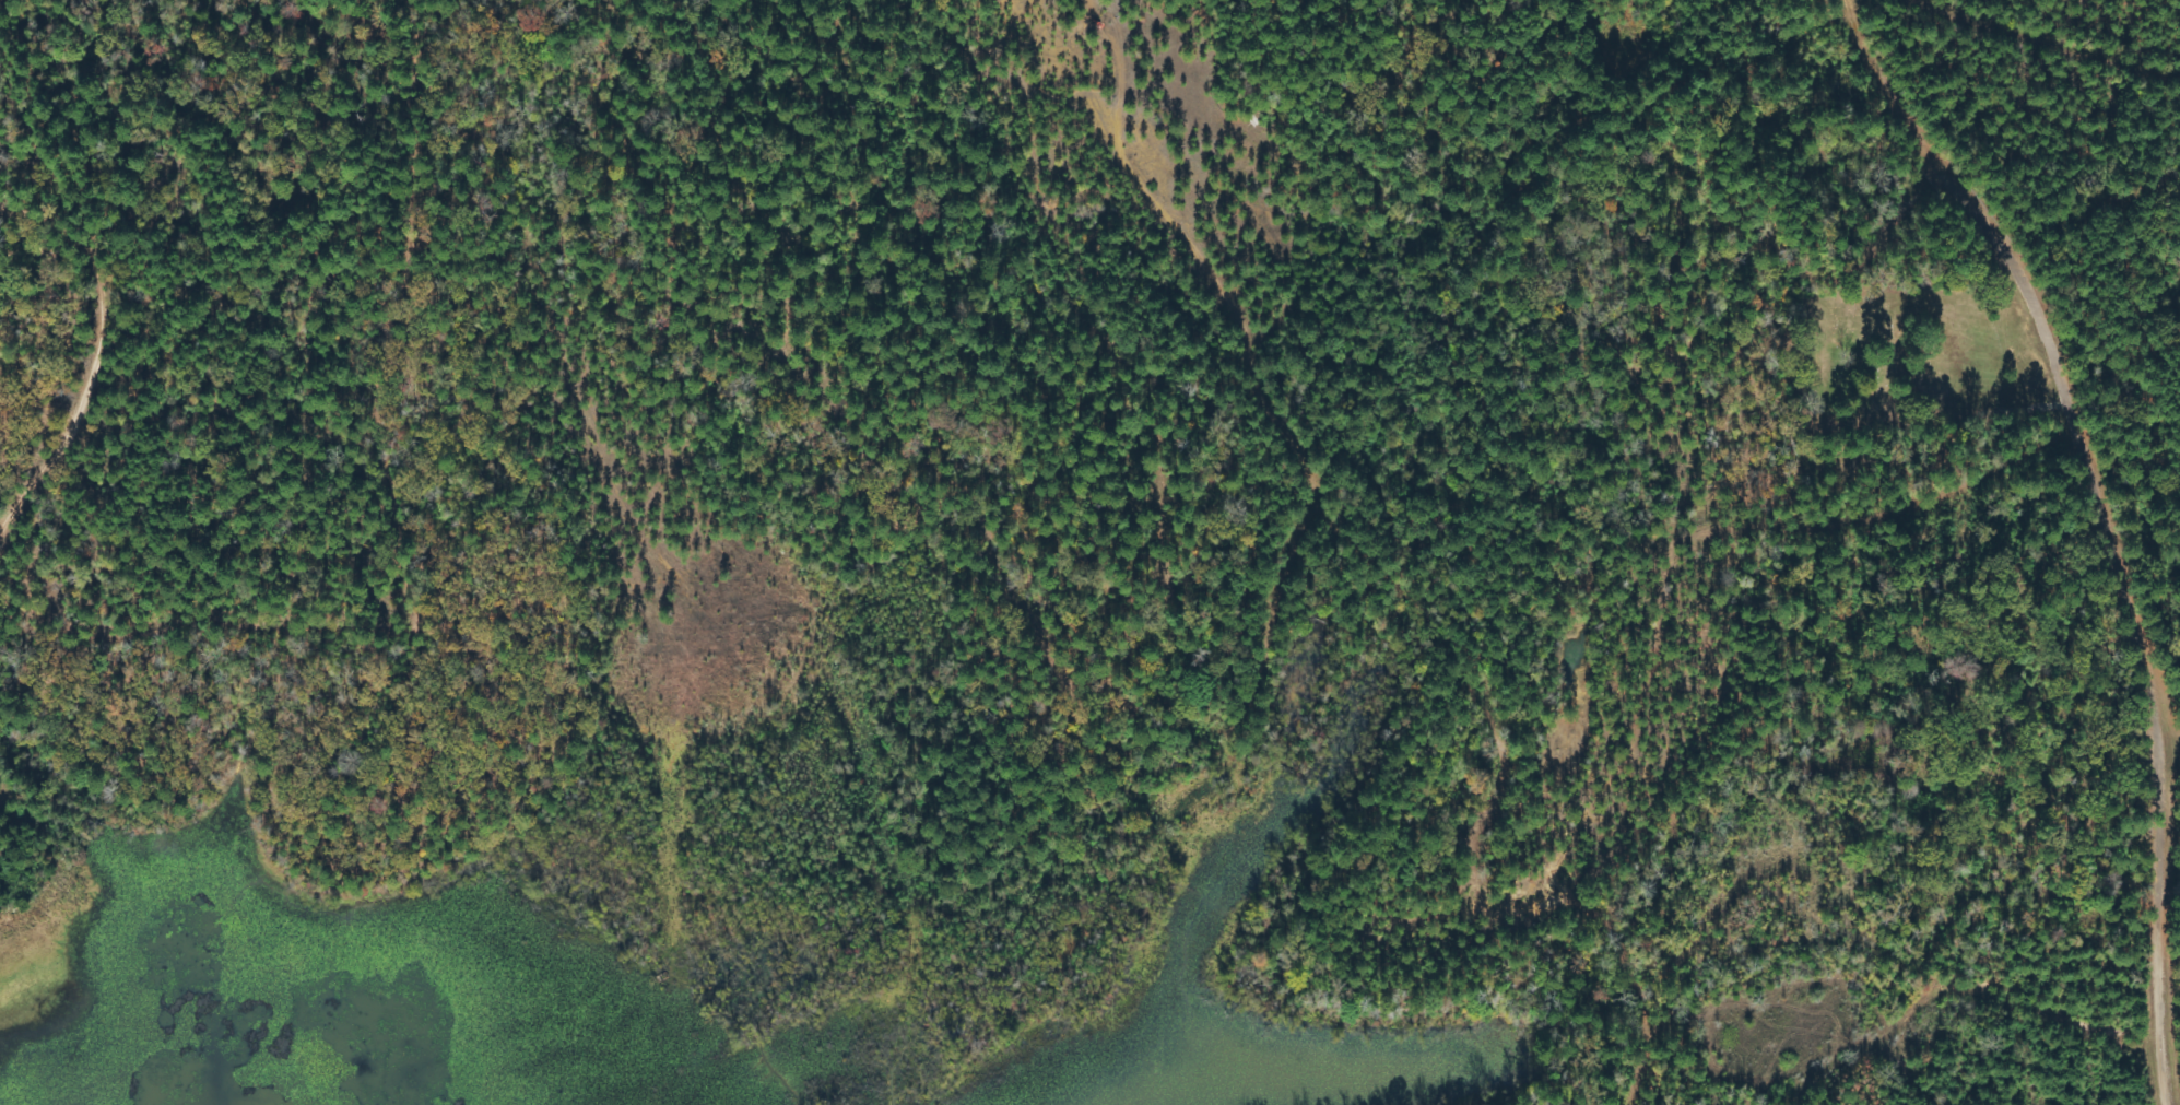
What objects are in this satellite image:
road: (2142, 611)

